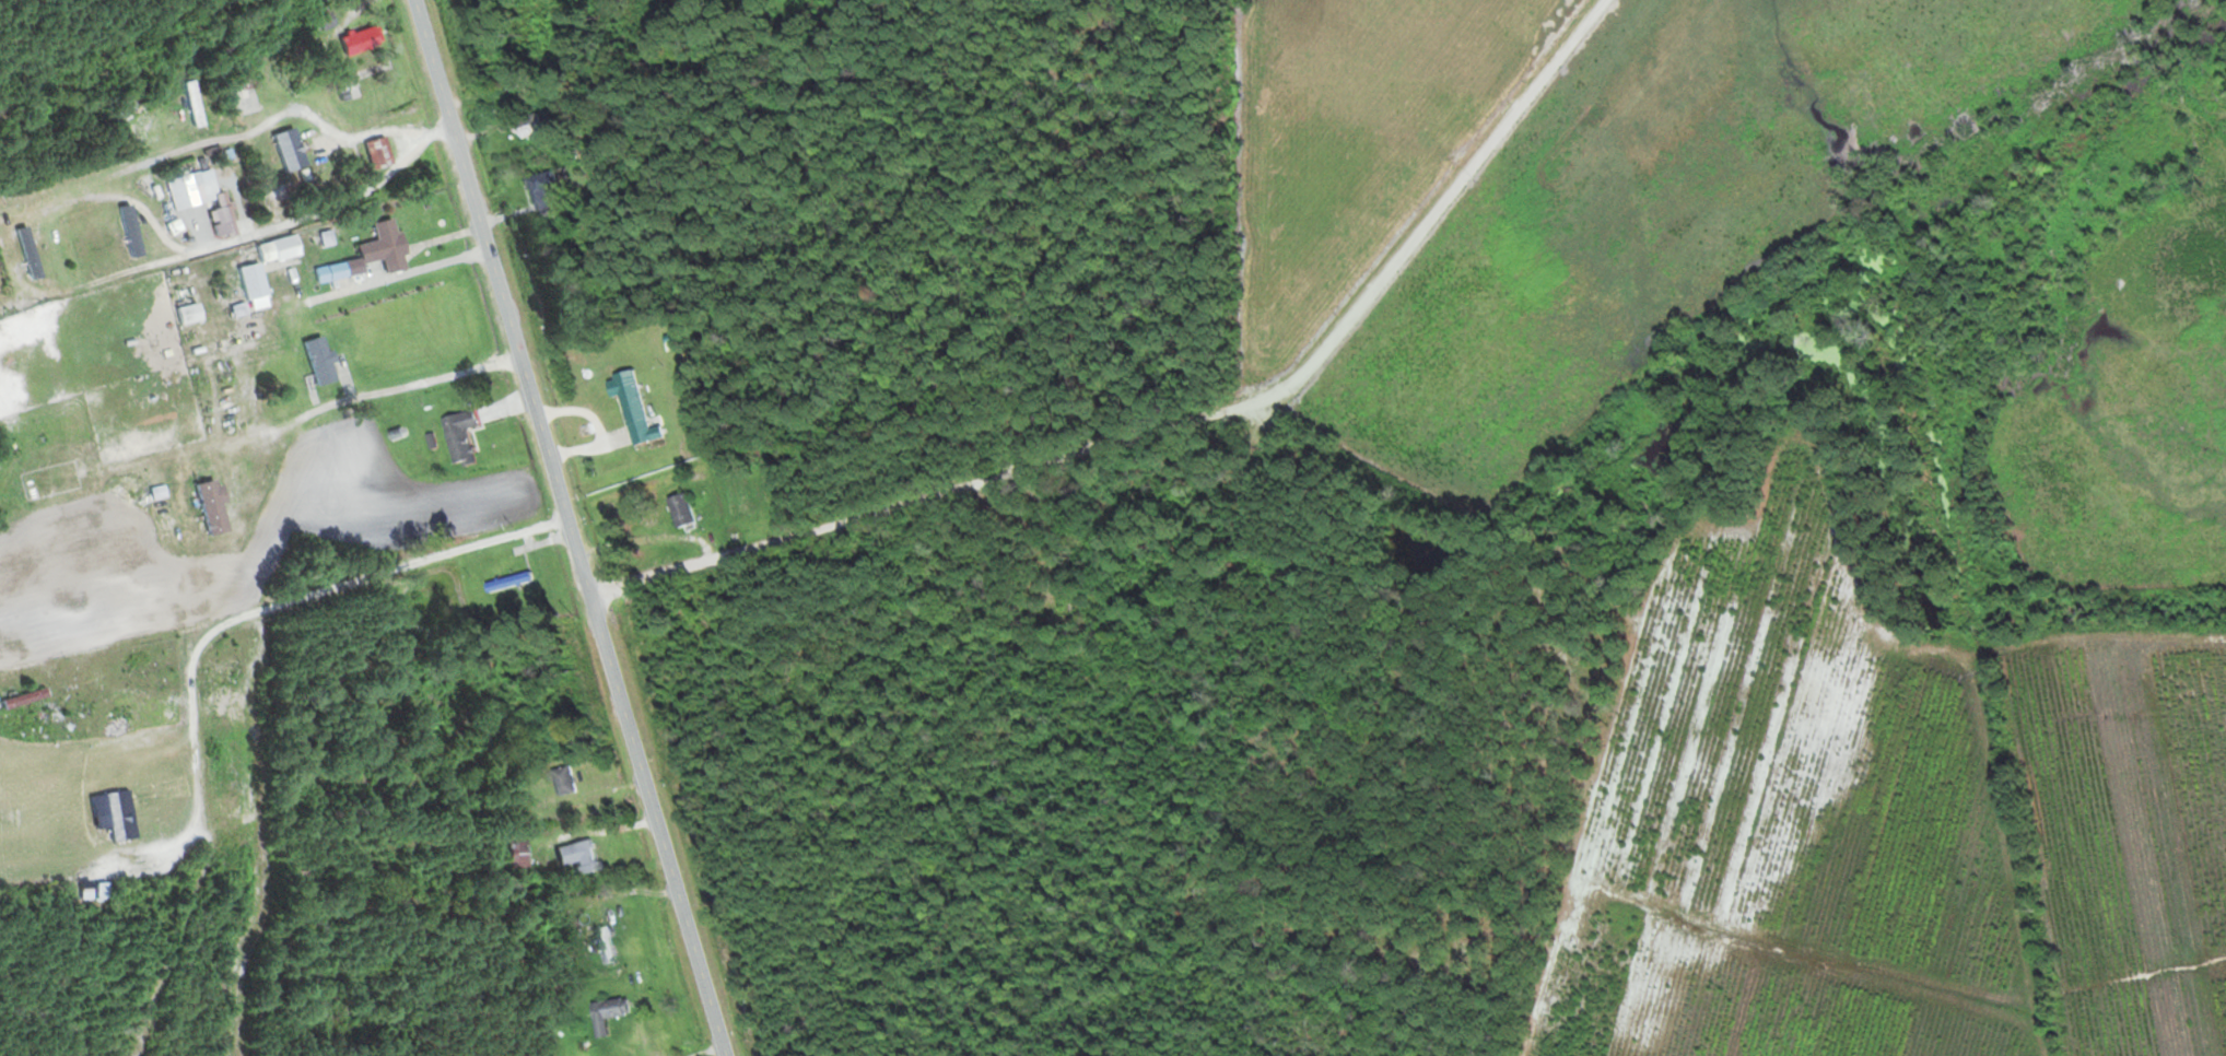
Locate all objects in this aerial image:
building: (323, 20)
building: (355, 39)
road: (481, 93)
building: (525, 126)
building: (284, 149)
road: (1446, 151)
building: (374, 152)
building: (542, 187)
building: (200, 199)
road: (339, 202)
road: (1424, 214)
building: (126, 233)
road: (12, 236)
building: (378, 246)
building: (272, 249)
building: (26, 255)
road: (402, 274)
road: (597, 277)
building: (247, 280)
road: (549, 284)
building: (314, 360)
building: (629, 407)
building: (456, 435)
building: (1290, 453)
road: (266, 502)
building: (206, 506)
building: (678, 509)
building: (160, 515)
road: (572, 528)
building: (503, 574)
building: (560, 781)
building: (512, 854)
building: (573, 855)
building: (601, 944)
building: (604, 1013)

